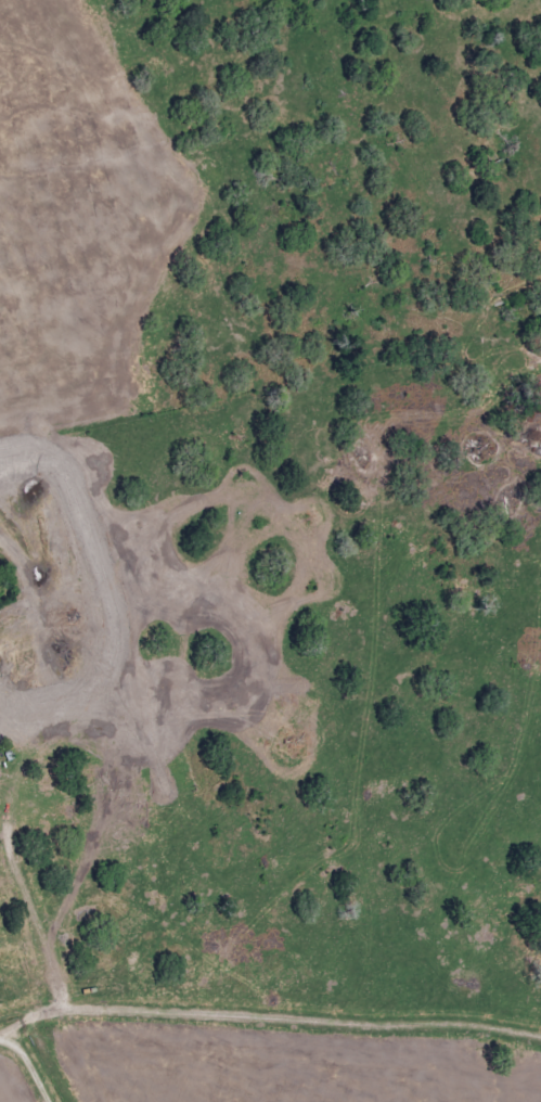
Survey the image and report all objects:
road: (268, 1021)

